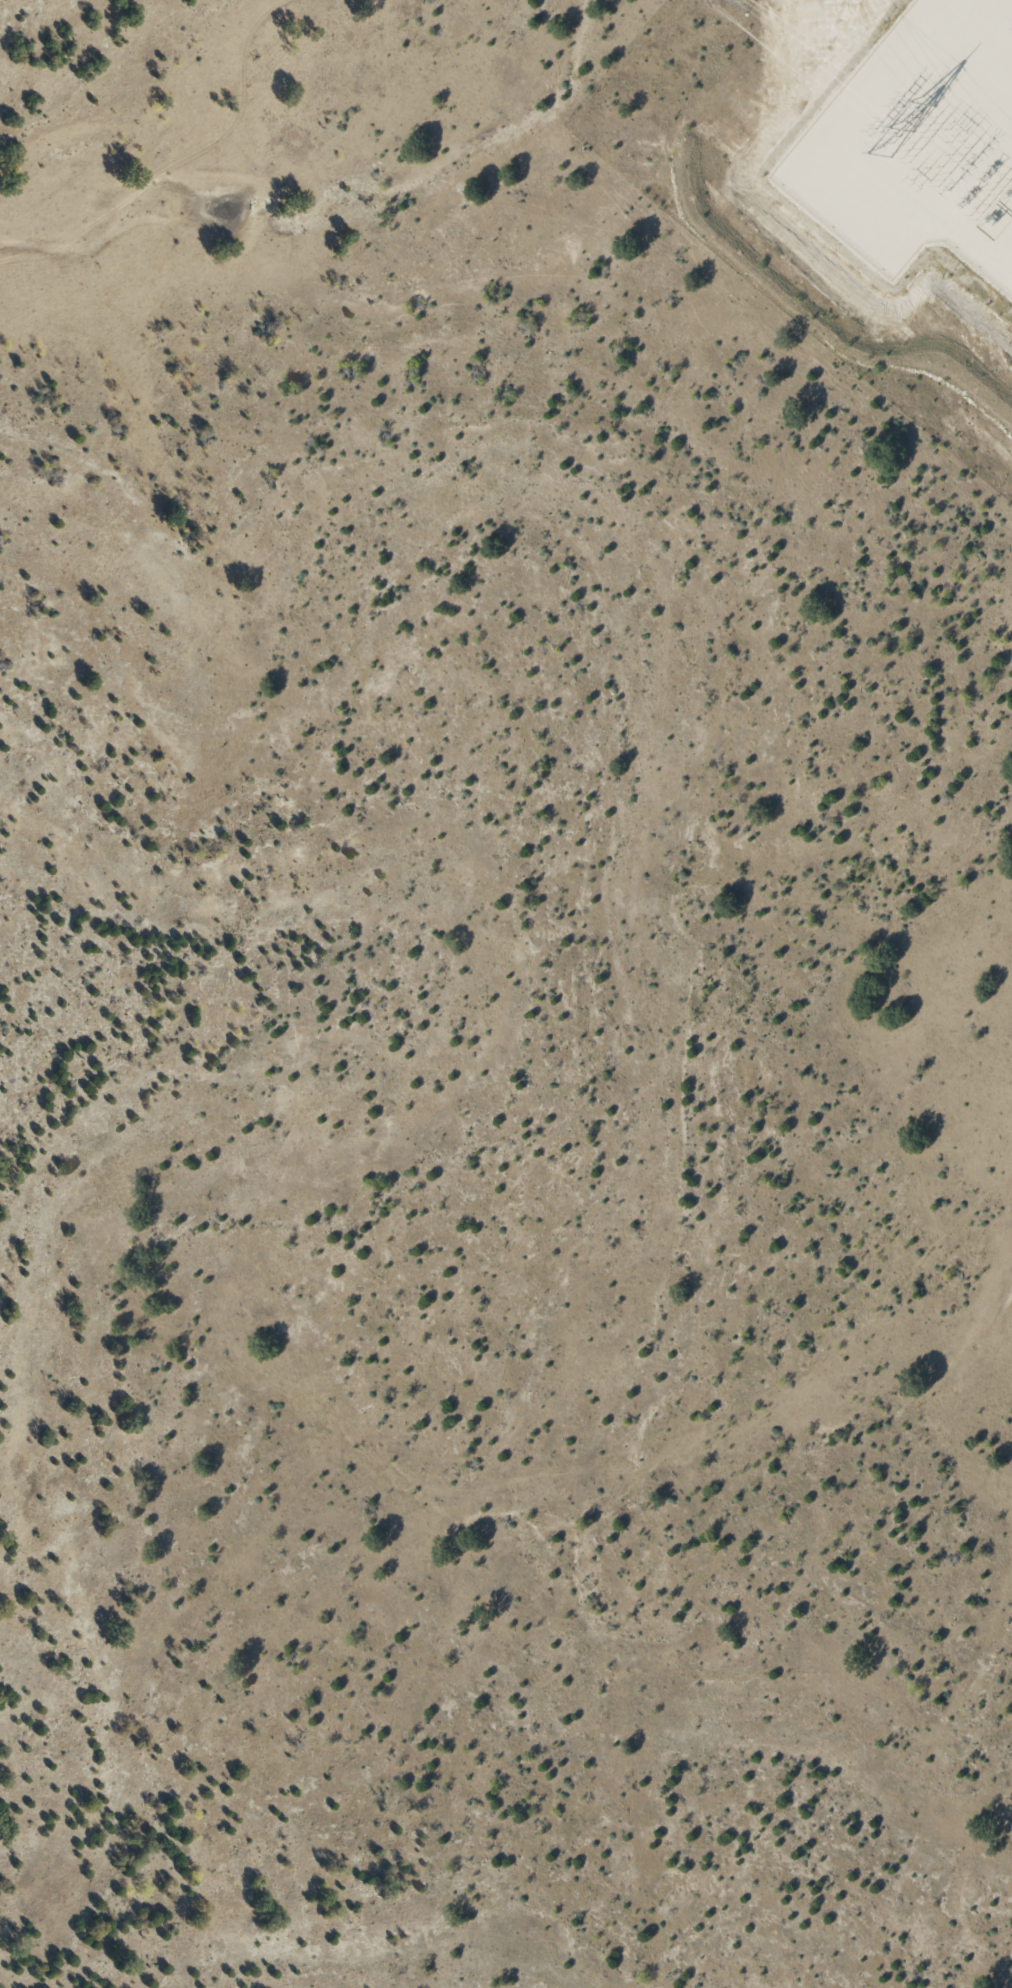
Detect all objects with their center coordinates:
power tower: (910, 108)
power tower: (887, 135)
power substation: (919, 141)

